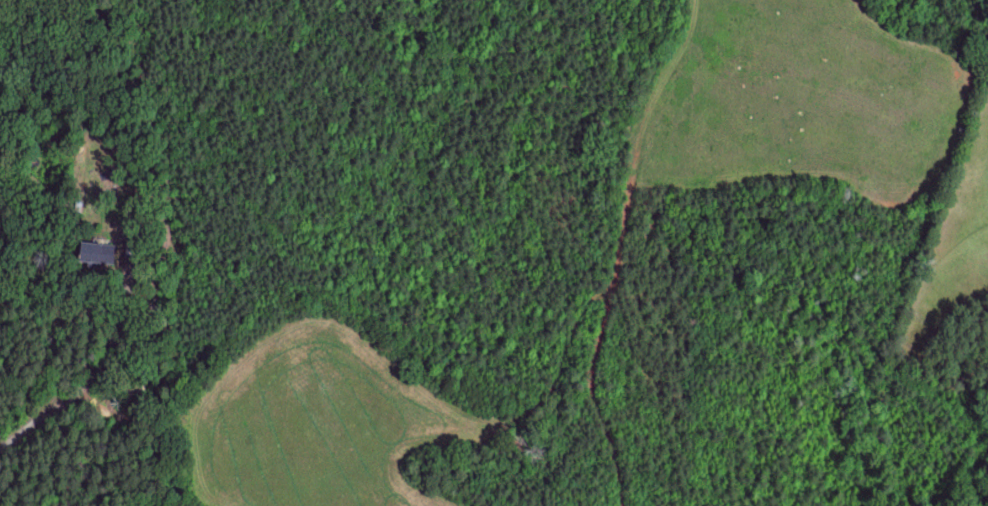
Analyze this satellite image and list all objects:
building: (97, 253)
road: (83, 380)

